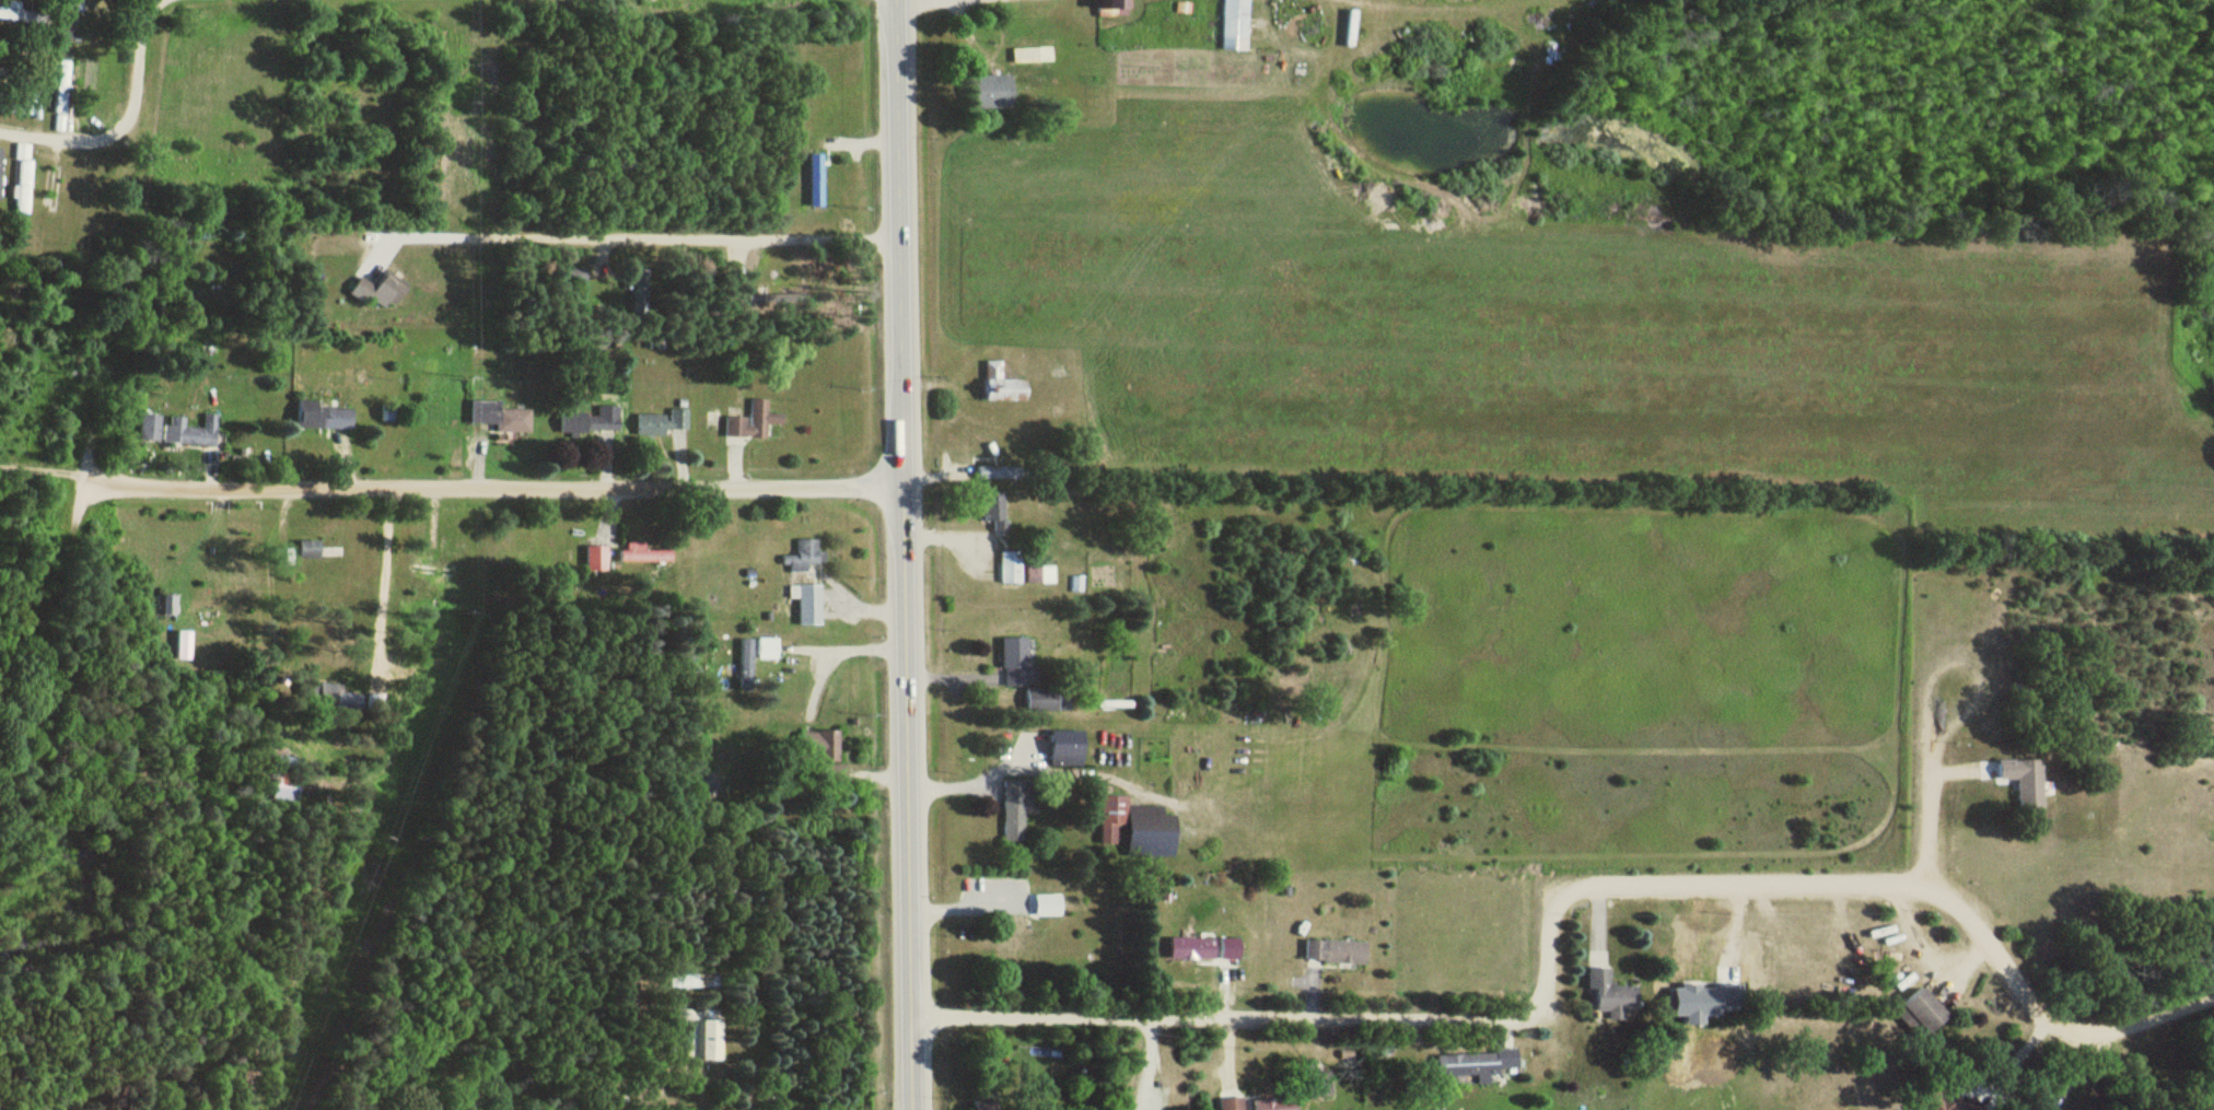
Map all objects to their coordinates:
building: (1112, 8)
building: (67, 20)
building: (1235, 25)
building: (992, 92)
building: (61, 96)
building: (0, 107)
road: (124, 124)
building: (0, 175)
building: (22, 179)
building: (816, 180)
road: (639, 242)
building: (641, 292)
building: (377, 293)
building: (765, 304)
building: (1005, 390)
building: (323, 417)
building: (501, 417)
building: (592, 422)
building: (663, 422)
building: (754, 422)
building: (150, 428)
building: (191, 433)
building: (1000, 474)
road: (488, 486)
building: (997, 511)
building: (322, 550)
building: (643, 553)
road: (904, 554)
building: (804, 558)
building: (597, 559)
building: (1010, 569)
building: (1041, 576)
building: (808, 605)
building: (165, 606)
road: (37, 621)
building: (183, 646)
building: (767, 650)
road: (829, 651)
building: (746, 665)
building: (1017, 665)
building: (342, 701)
building: (1048, 701)
road: (2206, 746)
building: (1067, 748)
road: (972, 779)
building: (2025, 782)
building: (1014, 813)
road: (1923, 815)
building: (1138, 829)
building: (1048, 907)
road: (1557, 912)
building: (1007, 946)
building: (1205, 950)
building: (1336, 954)
building: (1612, 995)
building: (1922, 1015)
building: (701, 1038)
building: (1476, 1064)
road: (1146, 1065)
building: (1233, 1105)
building: (1277, 1105)
building: (1951, 1106)
building: (986, 1107)

